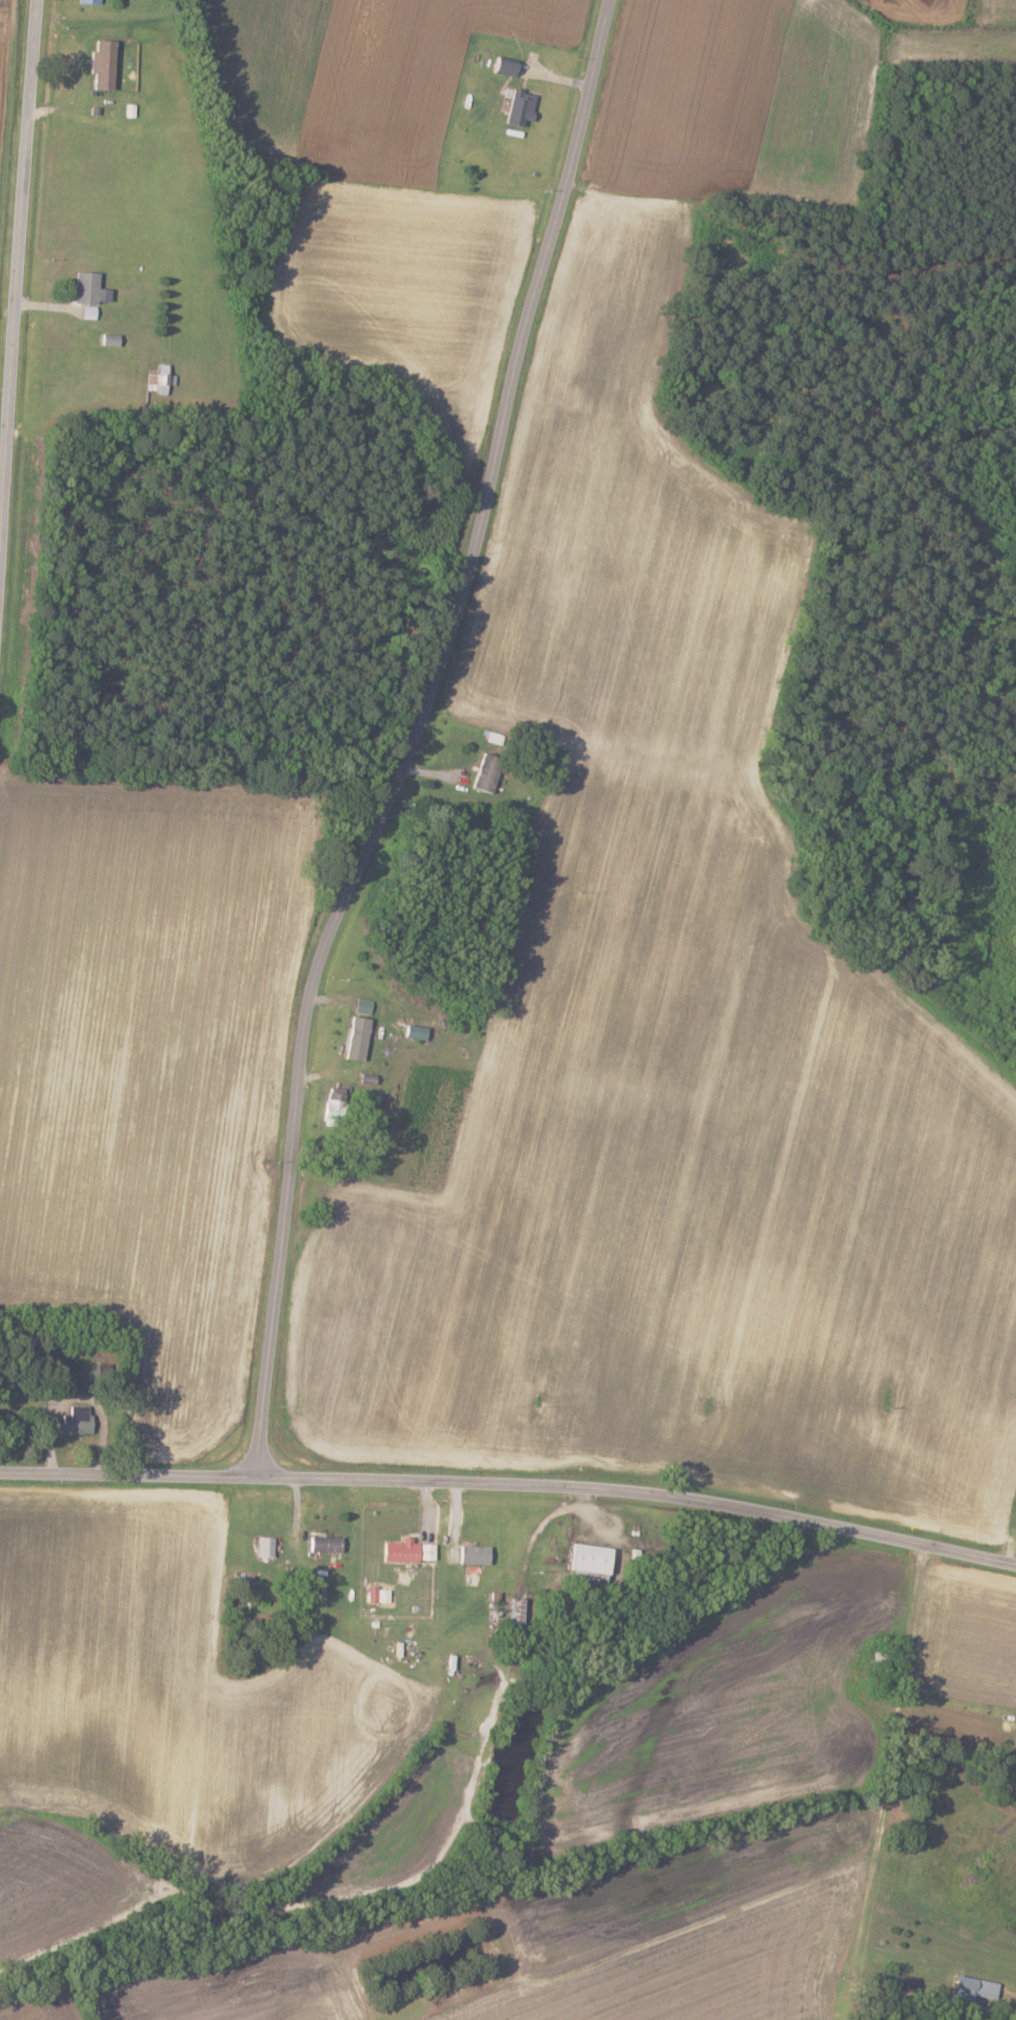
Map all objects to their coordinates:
building: (87, 1)
building: (100, 64)
building: (503, 68)
building: (520, 108)
road: (14, 275)
building: (86, 288)
building: (156, 381)
road: (406, 734)
building: (486, 773)
building: (358, 1029)
building: (413, 1031)
building: (332, 1110)
building: (74, 1420)
road: (511, 1481)
building: (324, 1544)
building: (266, 1547)
building: (399, 1551)
building: (426, 1552)
building: (473, 1555)
building: (587, 1561)
building: (376, 1594)
road: (900, 1741)

